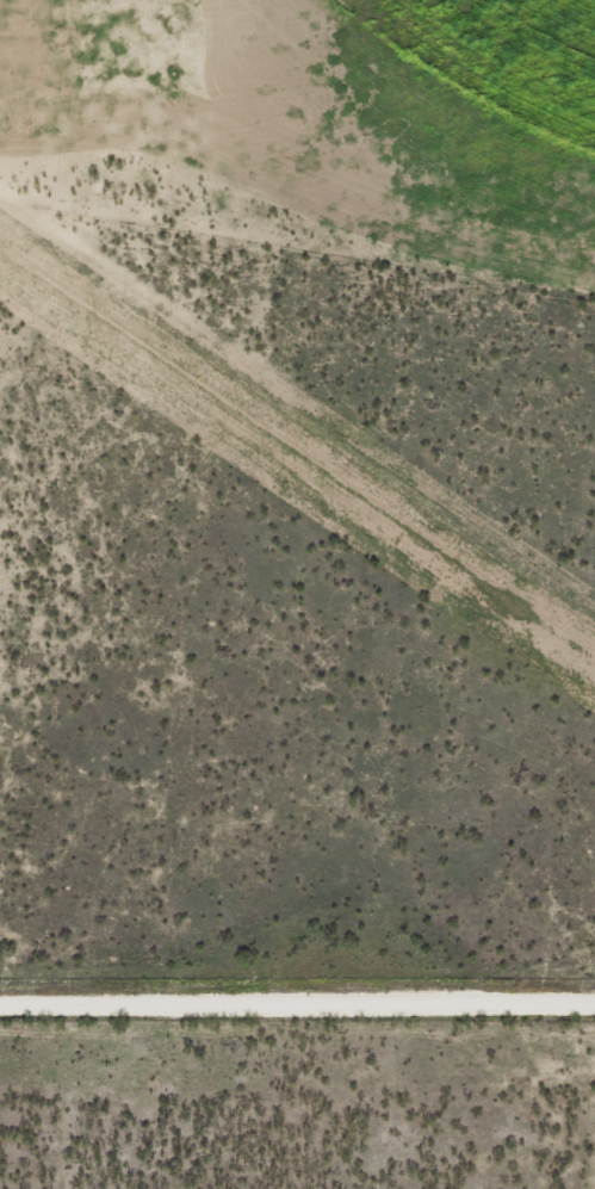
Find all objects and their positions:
road: (297, 1011)
road: (346, 1101)

